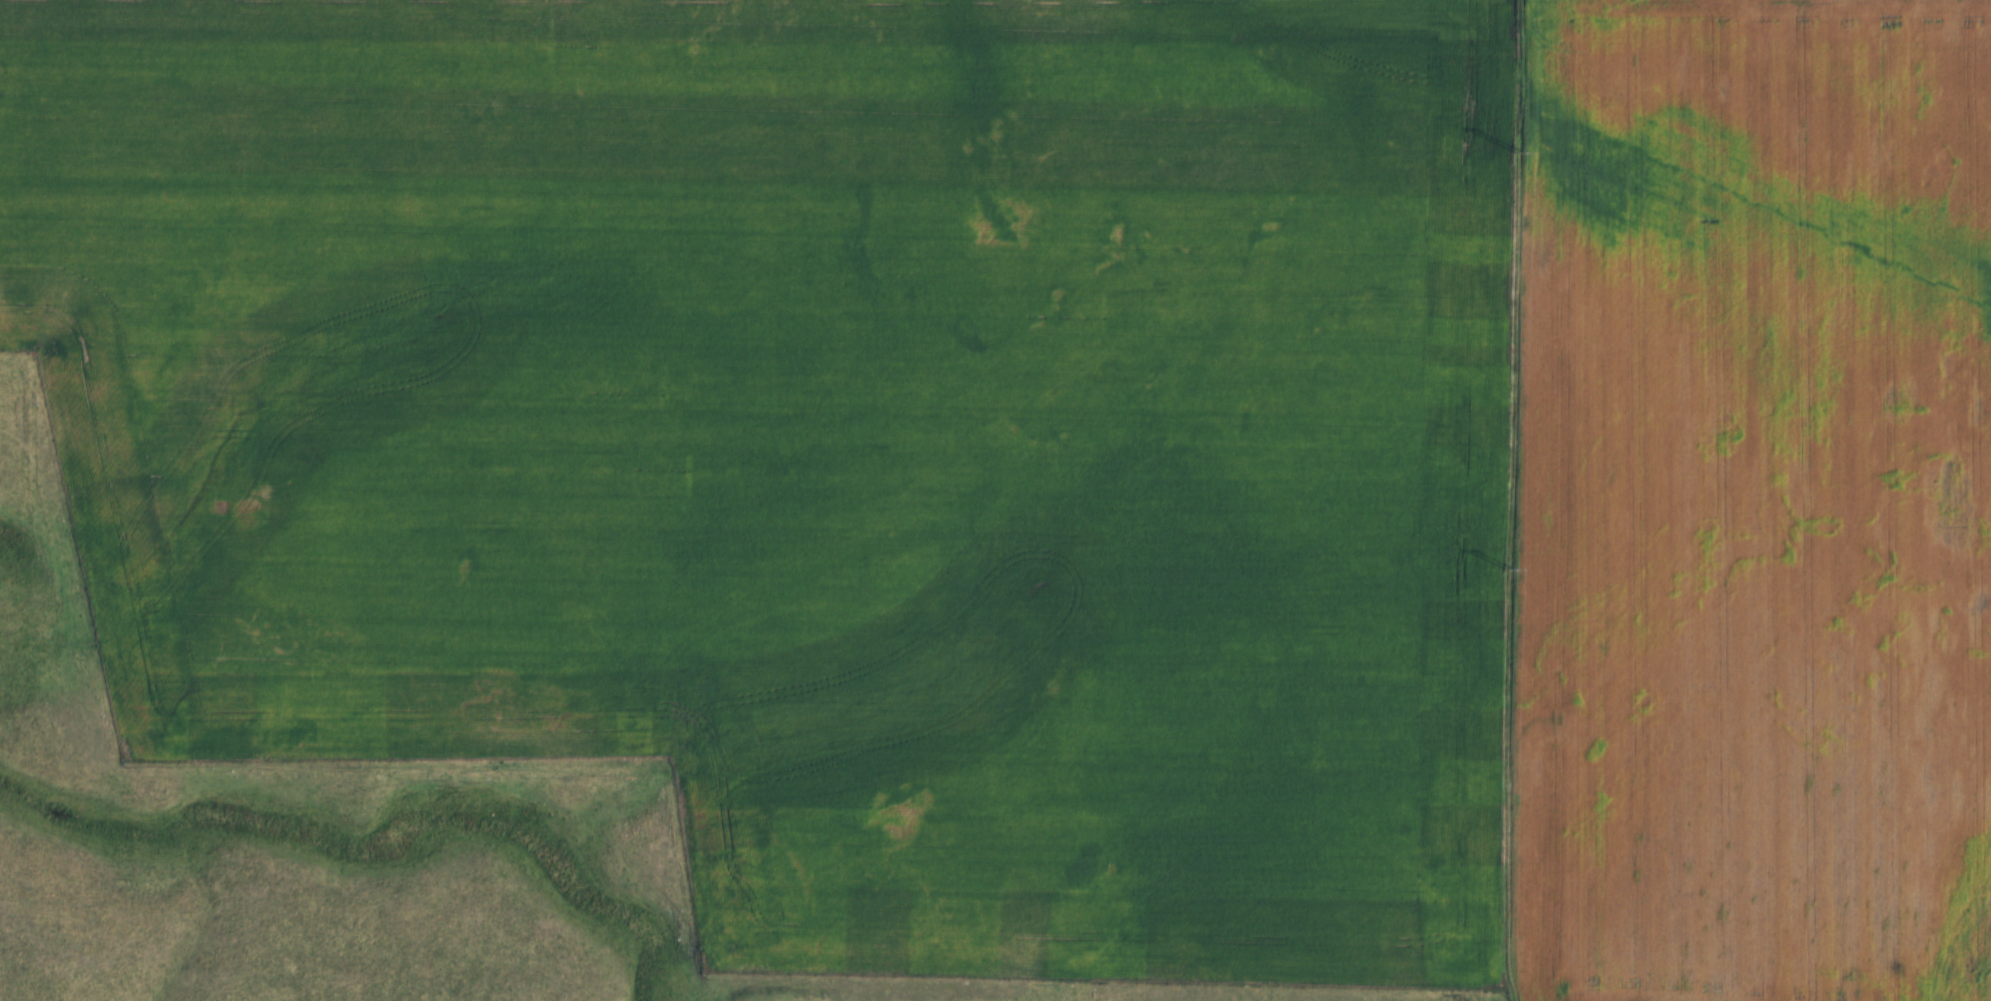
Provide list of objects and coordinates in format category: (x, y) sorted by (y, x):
power tower: (1516, 153)
power tower: (1507, 570)

